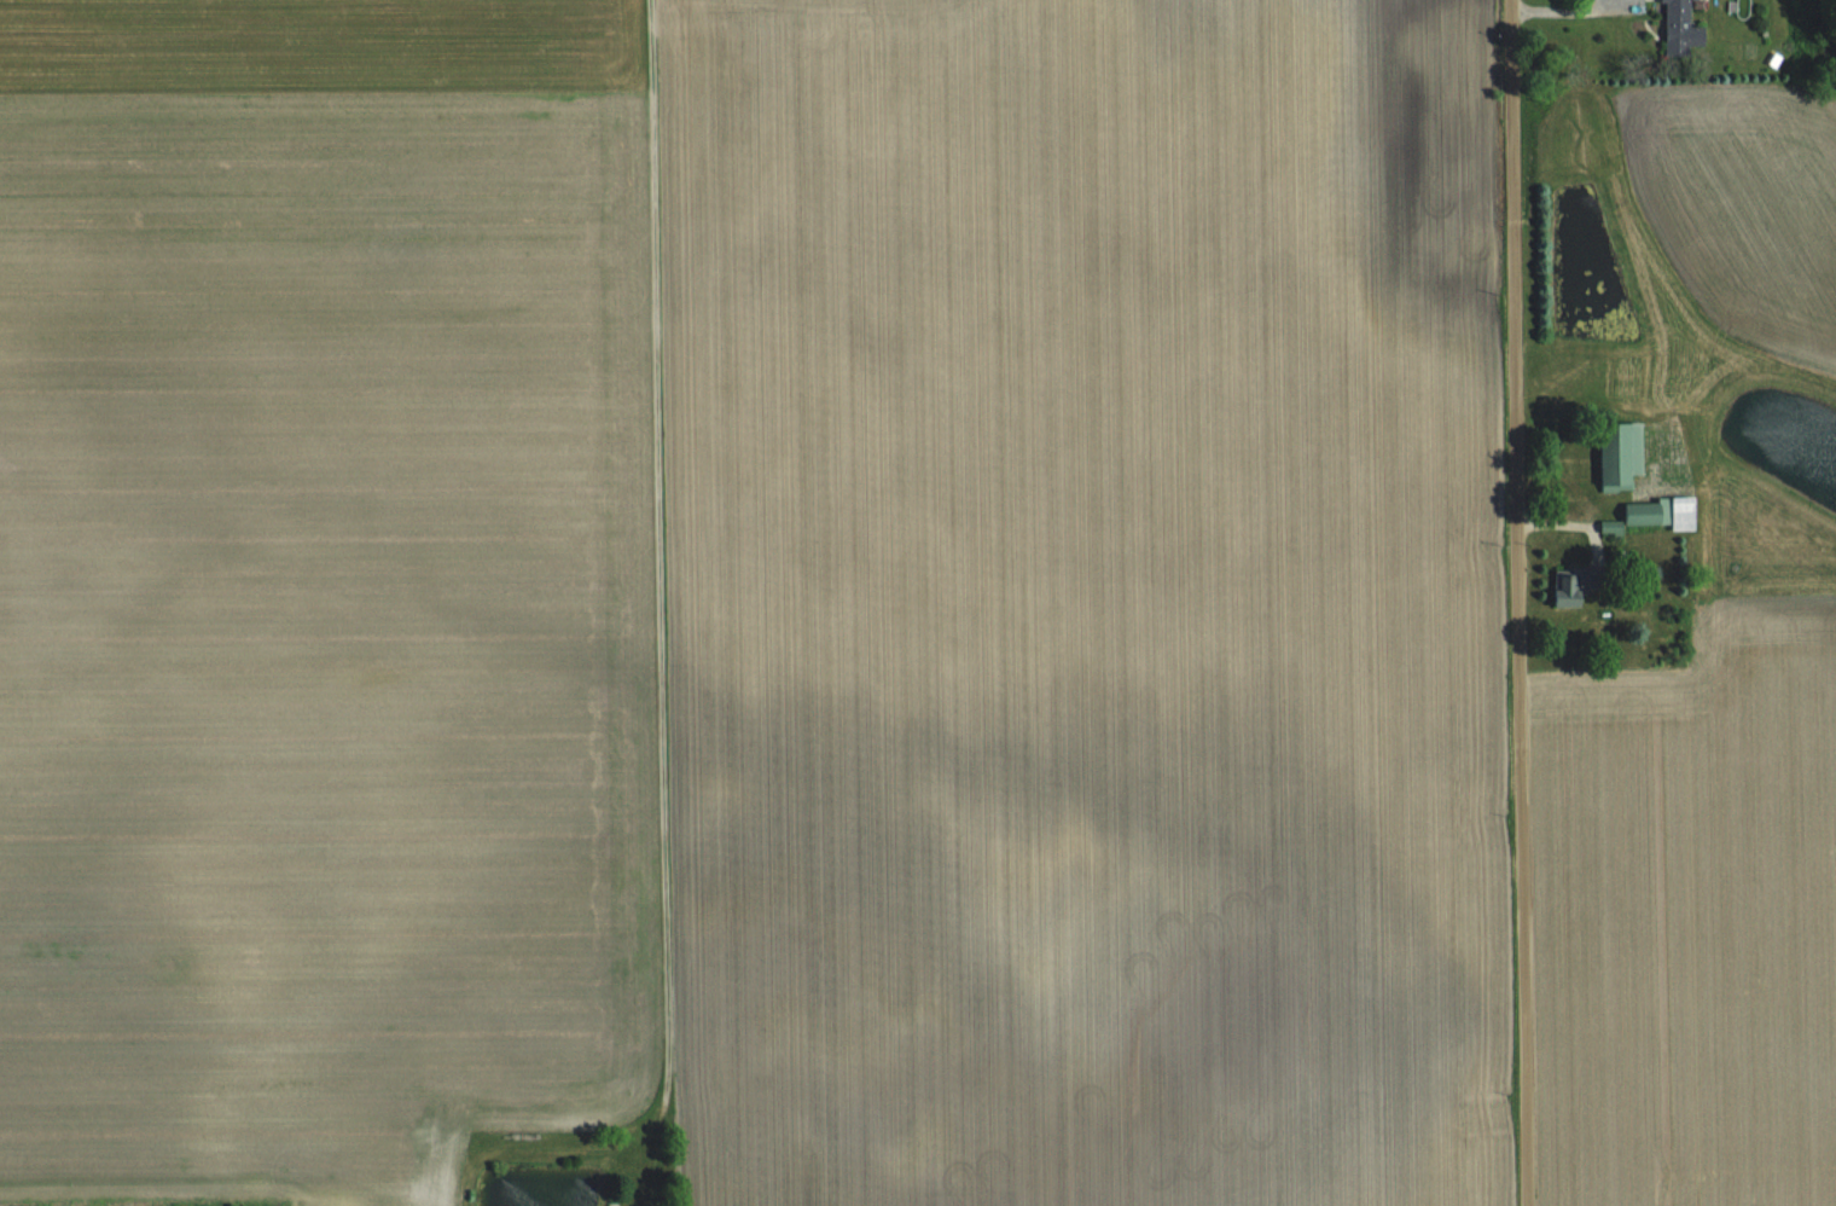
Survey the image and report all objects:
road: (1559, 5)
building: (1686, 27)
building: (1623, 453)
building: (1666, 512)
building: (1575, 586)
road: (1505, 603)

